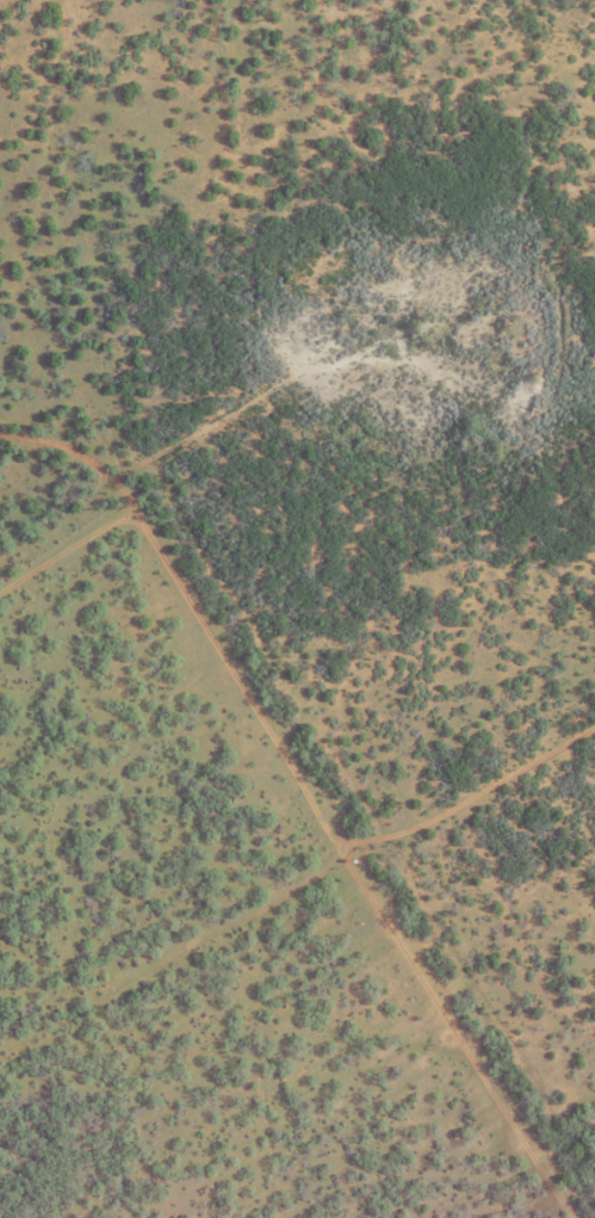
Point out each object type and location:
road: (142, 455)

